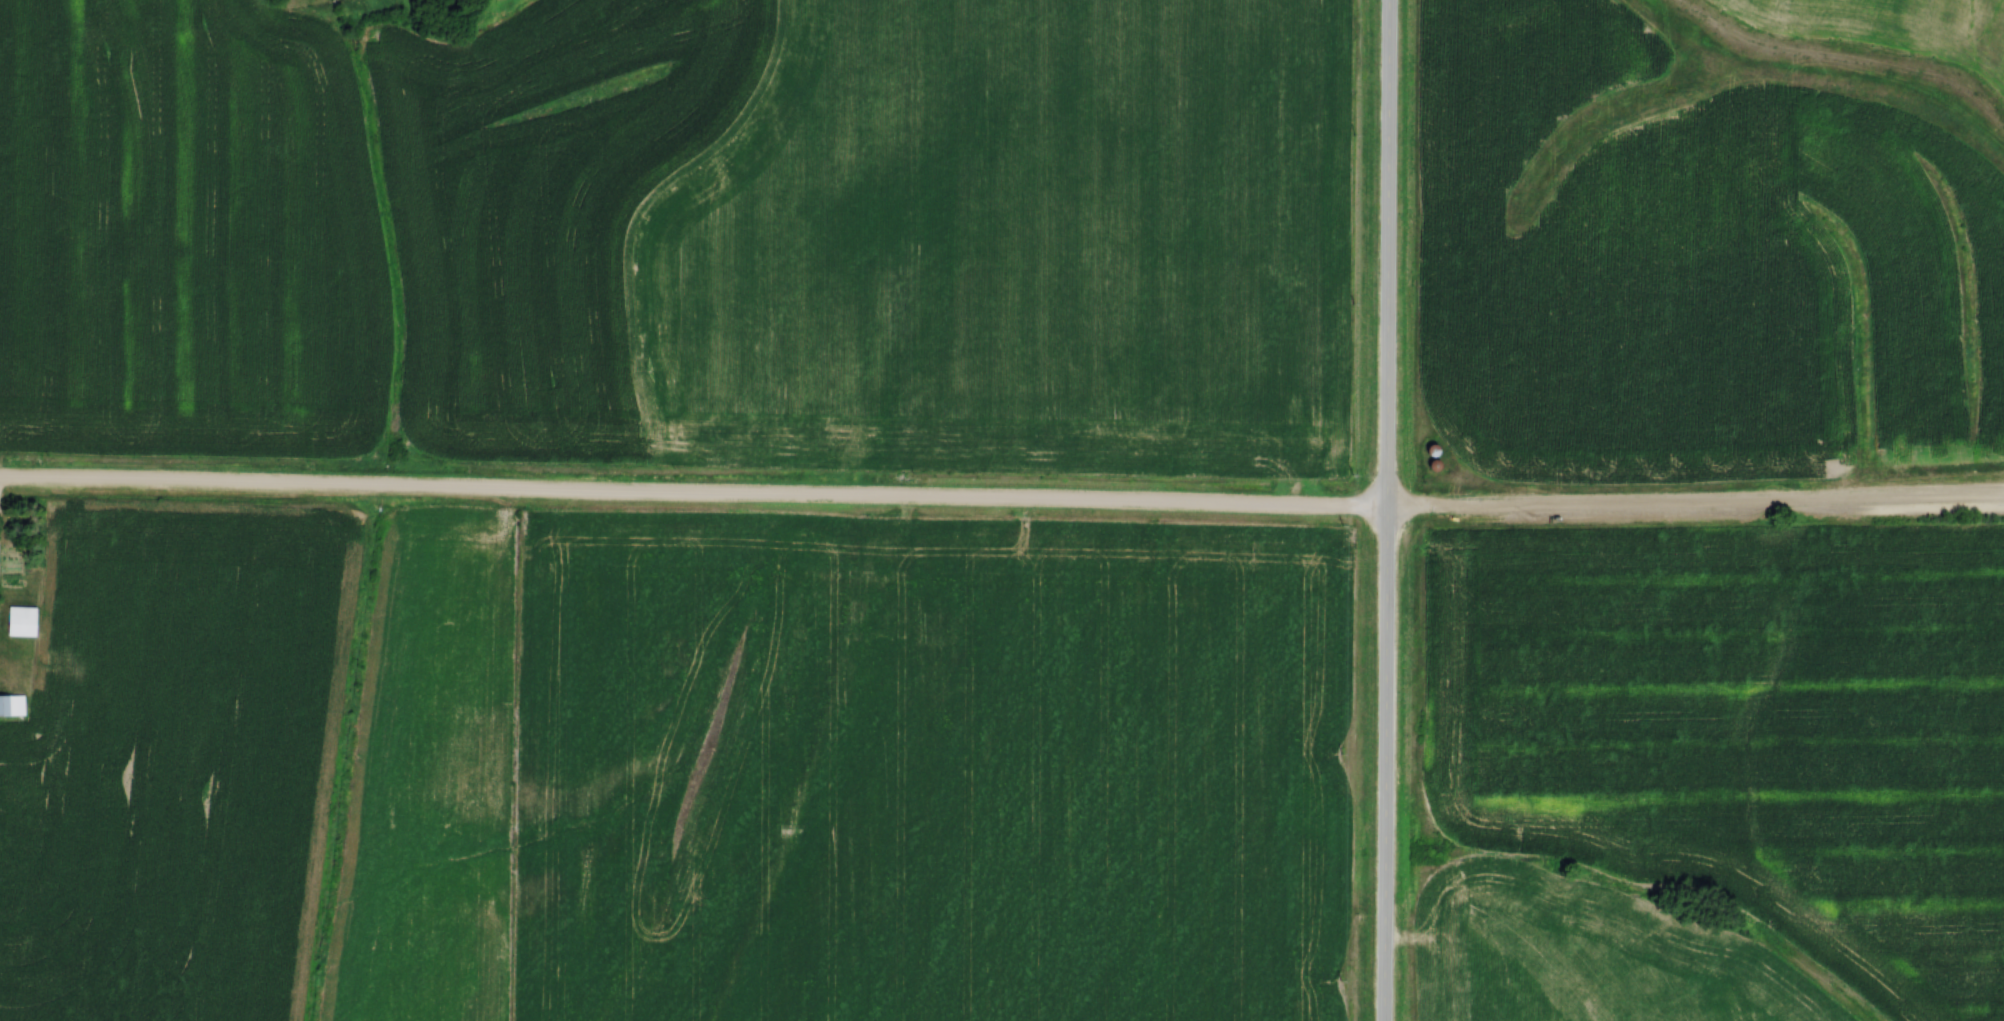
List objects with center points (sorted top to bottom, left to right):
road: (1001, 502)
road: (1384, 510)
building: (21, 621)
building: (12, 704)

